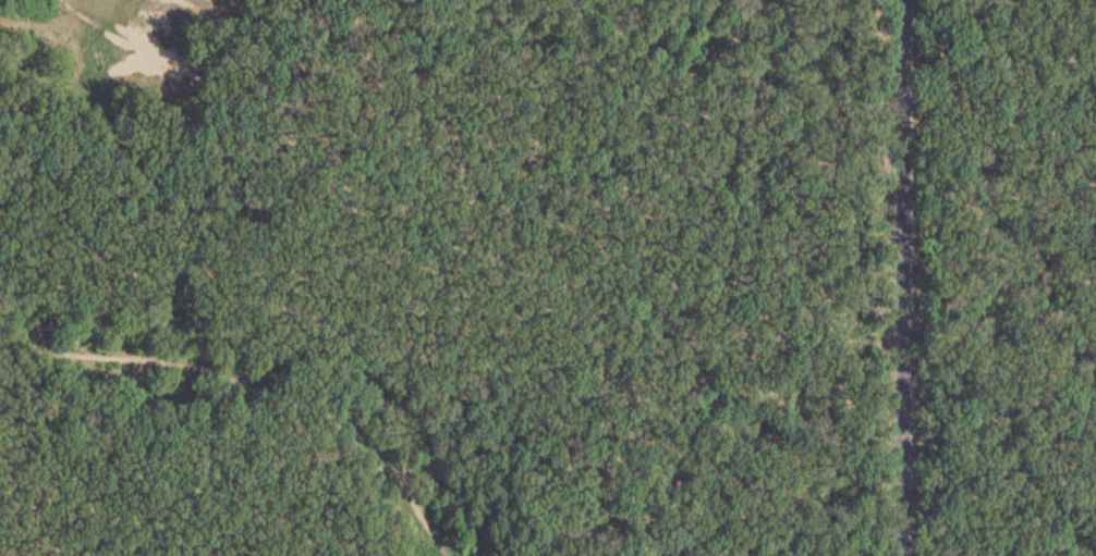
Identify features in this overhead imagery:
road: (899, 277)

